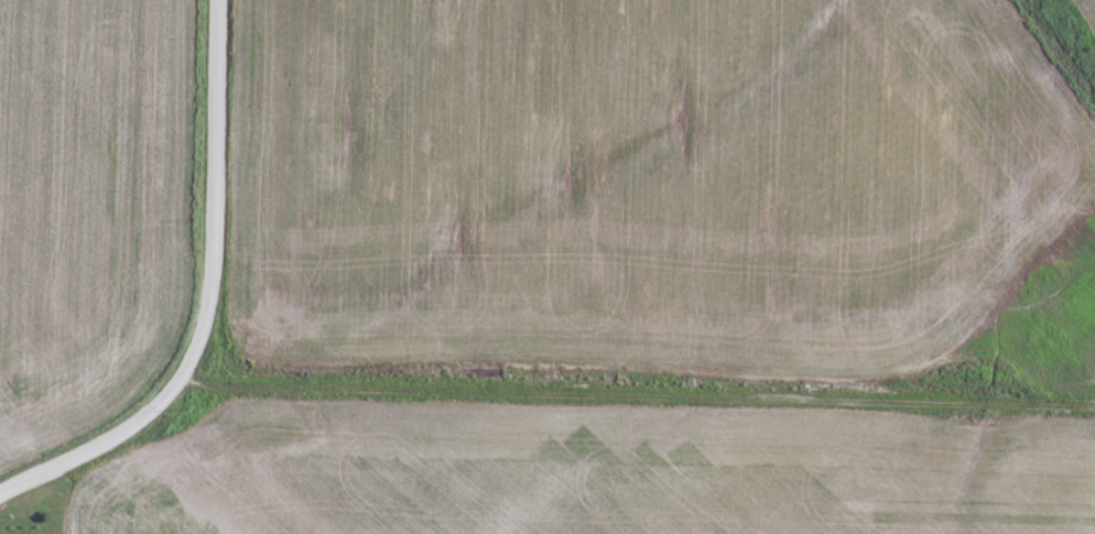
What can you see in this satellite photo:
road: (208, 298)

